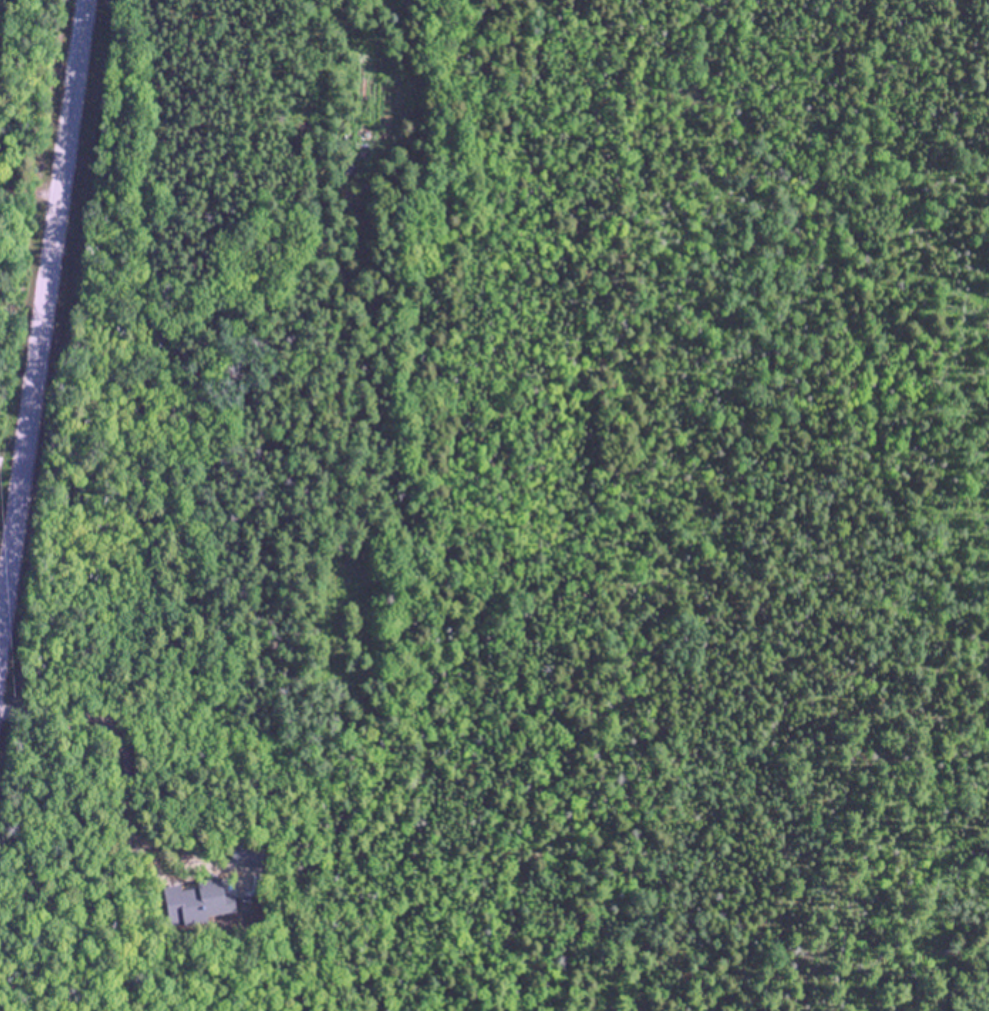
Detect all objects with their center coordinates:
road: (43, 326)

